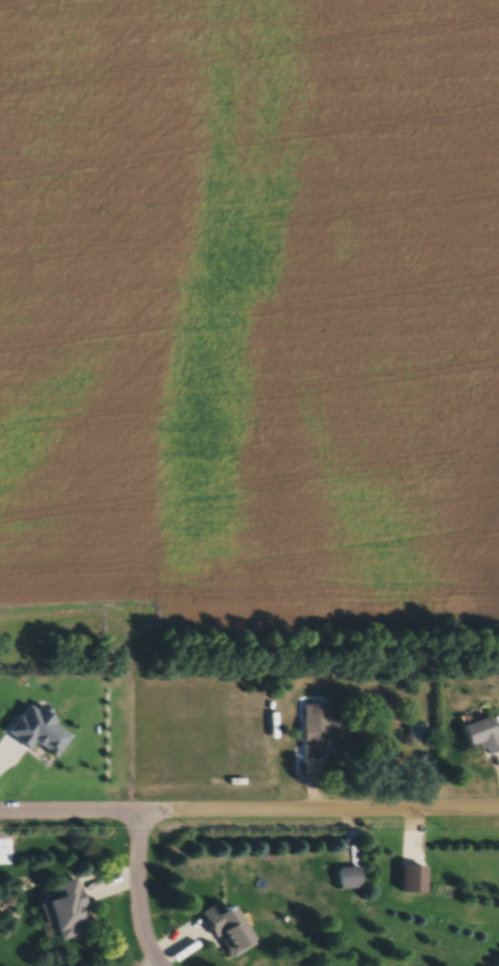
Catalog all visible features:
building: (332, 733)
building: (419, 734)
building: (484, 734)
road: (336, 809)
road: (86, 810)
building: (351, 878)
road: (139, 890)
building: (71, 911)
building: (226, 930)

